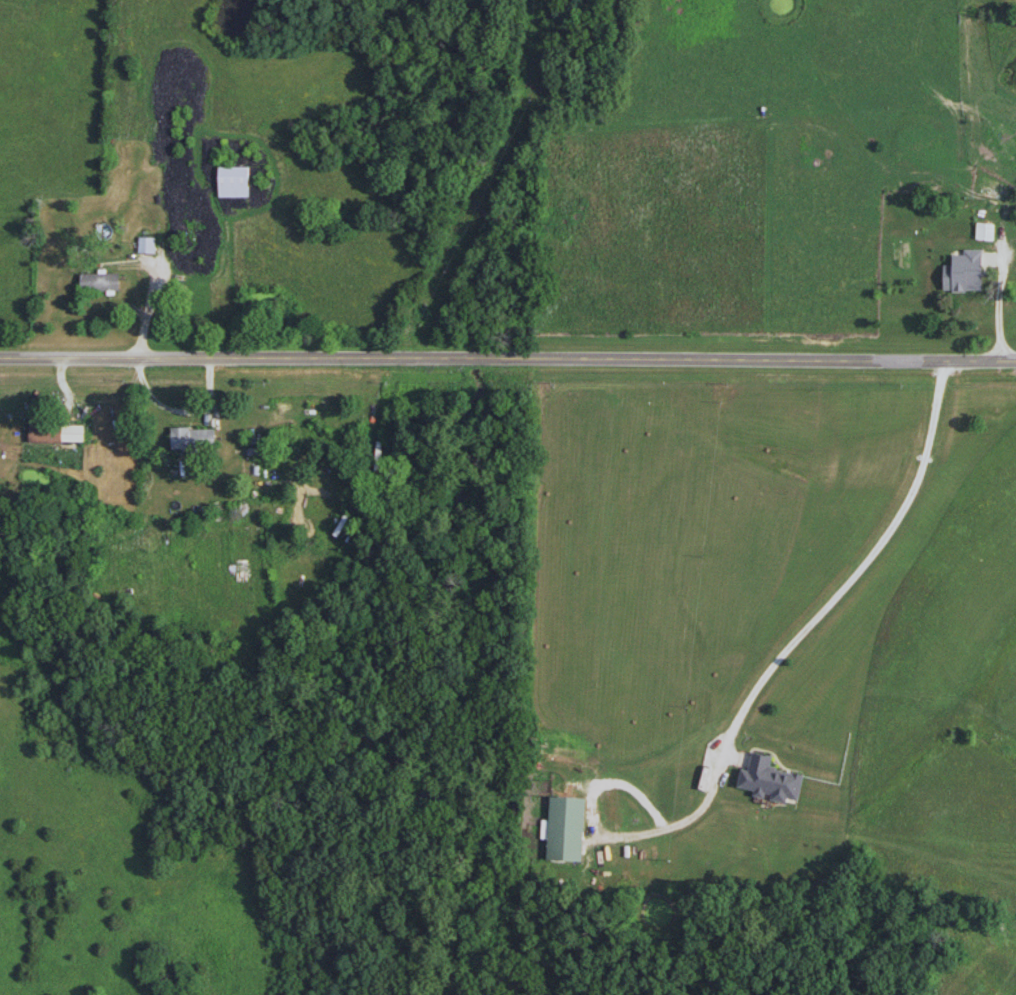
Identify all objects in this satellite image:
building: (234, 182)
building: (984, 232)
building: (146, 245)
road: (178, 258)
building: (100, 282)
building: (970, 283)
road: (999, 305)
road: (508, 358)
building: (56, 434)
building: (193, 439)
road: (753, 688)
building: (769, 782)
building: (566, 829)

